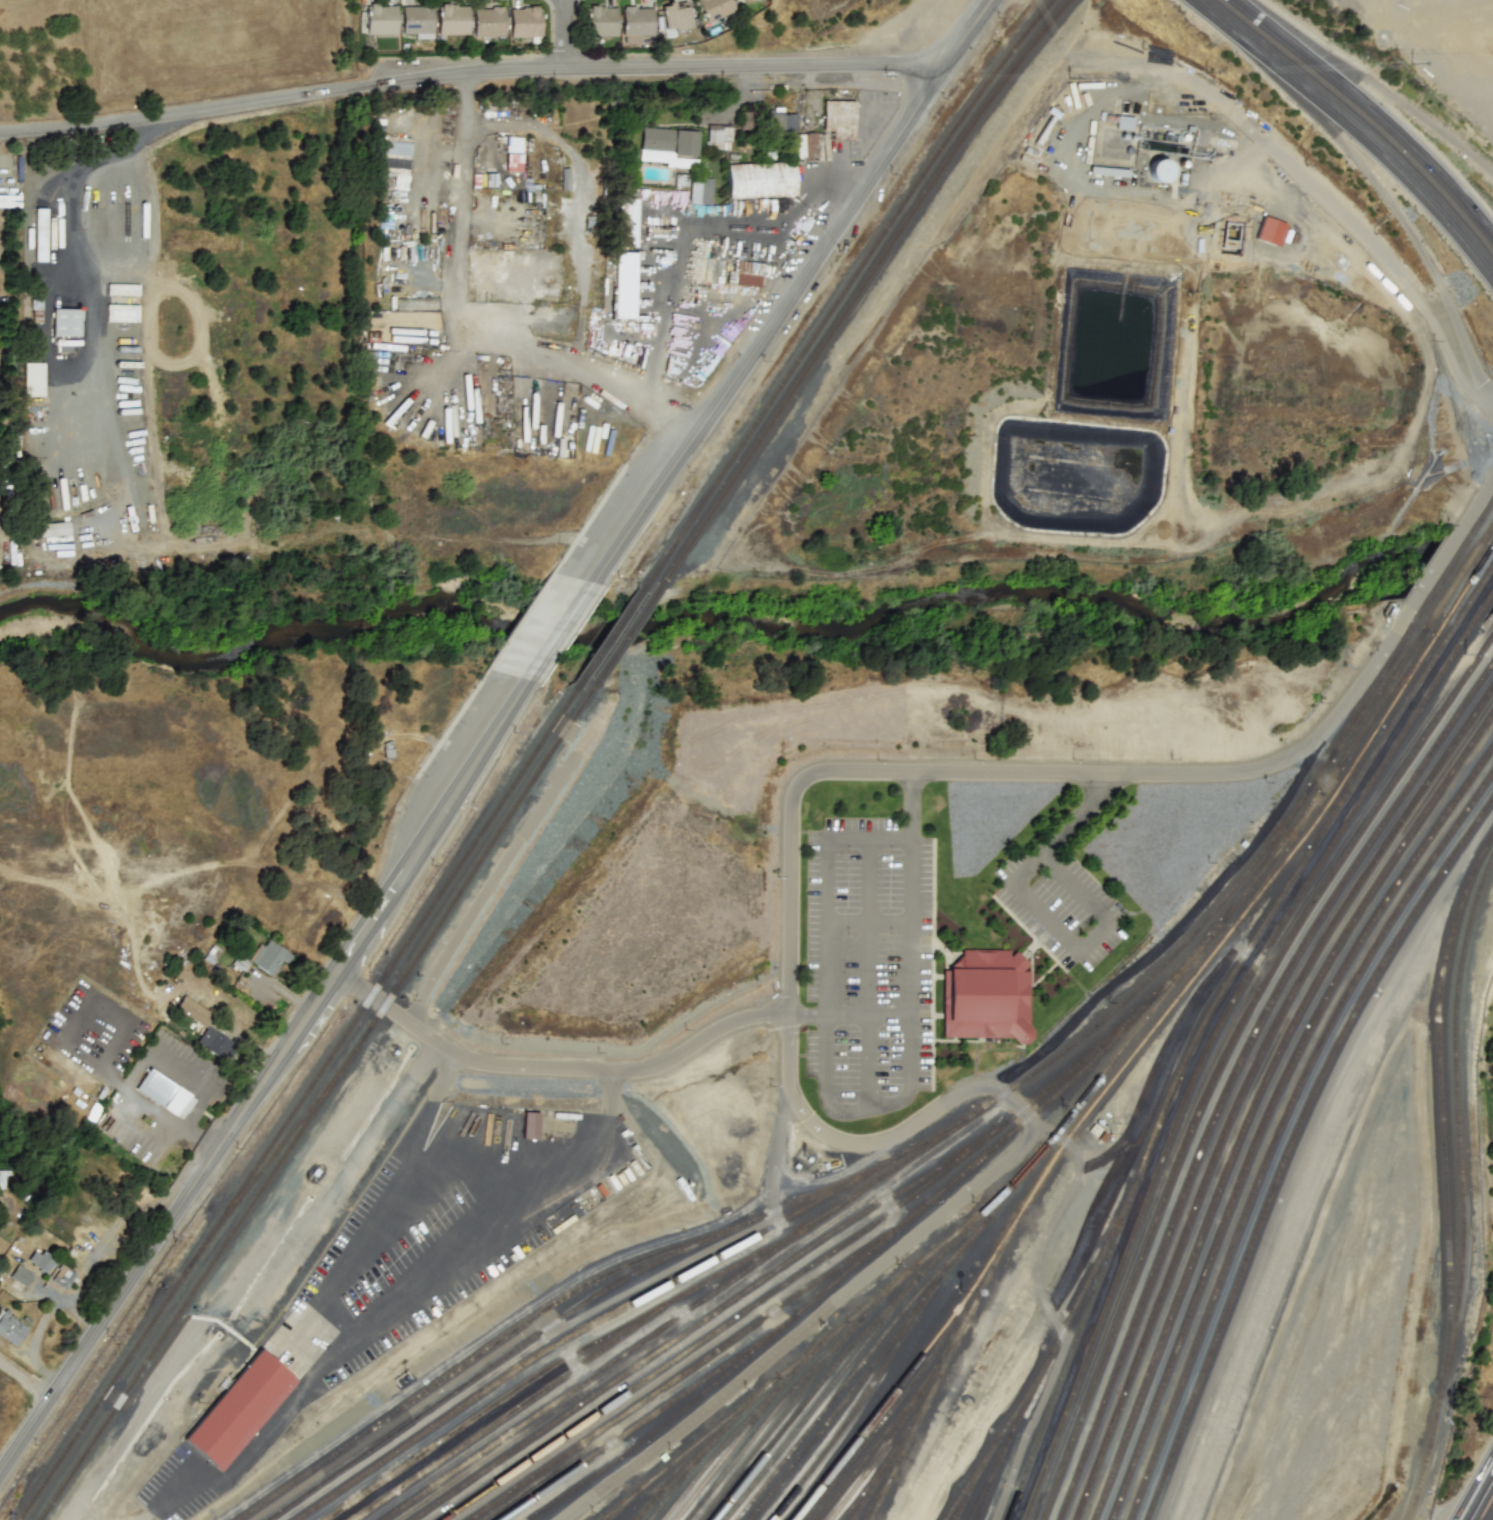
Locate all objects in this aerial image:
building: (739, 0)
building: (744, 1)
building: (714, 8)
building: (676, 16)
building: (380, 18)
building: (452, 18)
street lamp: (996, 19)
building: (602, 20)
building: (416, 21)
building: (488, 21)
building: (525, 21)
building: (635, 22)
road: (564, 34)
road: (467, 73)
road: (1389, 96)
road: (744, 98)
street lamp: (942, 101)
power tower: (1237, 103)
building: (839, 119)
road: (1363, 119)
building: (781, 121)
building: (1124, 123)
building: (719, 137)
road: (1424, 141)
building: (805, 146)
building: (669, 147)
building: (394, 148)
building: (513, 154)
building: (1158, 170)
road: (460, 180)
building: (761, 182)
road: (814, 183)
road: (1318, 189)
building: (701, 190)
road: (579, 198)
road: (1394, 210)
building: (626, 223)
road: (728, 229)
building: (1269, 231)
building: (40, 234)
road: (78, 252)
building: (748, 274)
road: (800, 284)
railway: (851, 284)
building: (624, 285)
railway: (865, 286)
building: (122, 289)
road: (665, 306)
building: (121, 313)
building: (65, 322)
road: (710, 322)
road: (574, 360)
building: (32, 379)
road: (61, 447)
road: (125, 484)
building: (53, 529)
river: (1463, 562)
railway: (1480, 562)
road: (561, 631)
railway: (615, 634)
railway: (628, 637)
railway: (1379, 695)
railway: (1389, 701)
railway: (1345, 788)
road: (911, 806)
road: (866, 839)
railway: (1272, 851)
railway: (1280, 861)
road: (1044, 913)
road: (868, 928)
building: (268, 956)
road: (790, 971)
road: (287, 993)
building: (986, 997)
building: (193, 1010)
railway: (1206, 1020)
railway: (1160, 1021)
railway: (1217, 1035)
building: (215, 1043)
railway: (1224, 1057)
road: (866, 1061)
road: (557, 1065)
railway: (1235, 1071)
railway: (1104, 1073)
road: (177, 1074)
road: (133, 1079)
road: (906, 1081)
railway: (1246, 1085)
road: (261, 1087)
building: (164, 1094)
railway: (1259, 1099)
railway: (298, 1105)
railway: (317, 1108)
railway: (1442, 1110)
road: (190, 1117)
railway: (1268, 1117)
road: (145, 1122)
railway: (959, 1122)
building: (530, 1125)
railway: (1280, 1132)
road: (200, 1140)
railway: (1292, 1147)
railway: (280, 1149)
road: (508, 1156)
railway: (1464, 1190)
road: (376, 1199)
road: (497, 1234)
road: (850, 1250)
railway: (873, 1250)
building: (40, 1261)
road: (240, 1268)
road: (766, 1268)
railway: (808, 1269)
building: (20, 1275)
building: (63, 1277)
road: (651, 1302)
railway: (689, 1311)
railway: (705, 1320)
railway: (594, 1324)
building: (11, 1328)
railway: (888, 1329)
road: (482, 1341)
railway: (849, 1350)
railway: (582, 1351)
road: (509, 1352)
road: (305, 1354)
railway: (705, 1359)
road: (572, 1362)
railway: (1048, 1362)
railway: (871, 1367)
road: (26, 1371)
railway: (917, 1376)
road: (540, 1383)
railway: (787, 1395)
railway: (532, 1398)
railway: (861, 1402)
railway: (818, 1403)
building: (241, 1409)
railway: (880, 1409)
railway: (907, 1414)
railway: (672, 1420)
railway: (743, 1424)
railway: (777, 1424)
railway: (736, 1443)
railway: (876, 1446)
railway: (994, 1446)
road: (251, 1450)
railway: (703, 1451)
railway: (894, 1454)
road: (207, 1473)
railway: (877, 1477)
railway: (683, 1478)
road: (176, 1482)
railway: (968, 1486)
railway: (984, 1486)
road: (1478, 1492)
railway: (880, 1497)
railway: (650, 1507)
railway: (619, 1508)
road: (164, 1512)
road: (1491, 1518)

